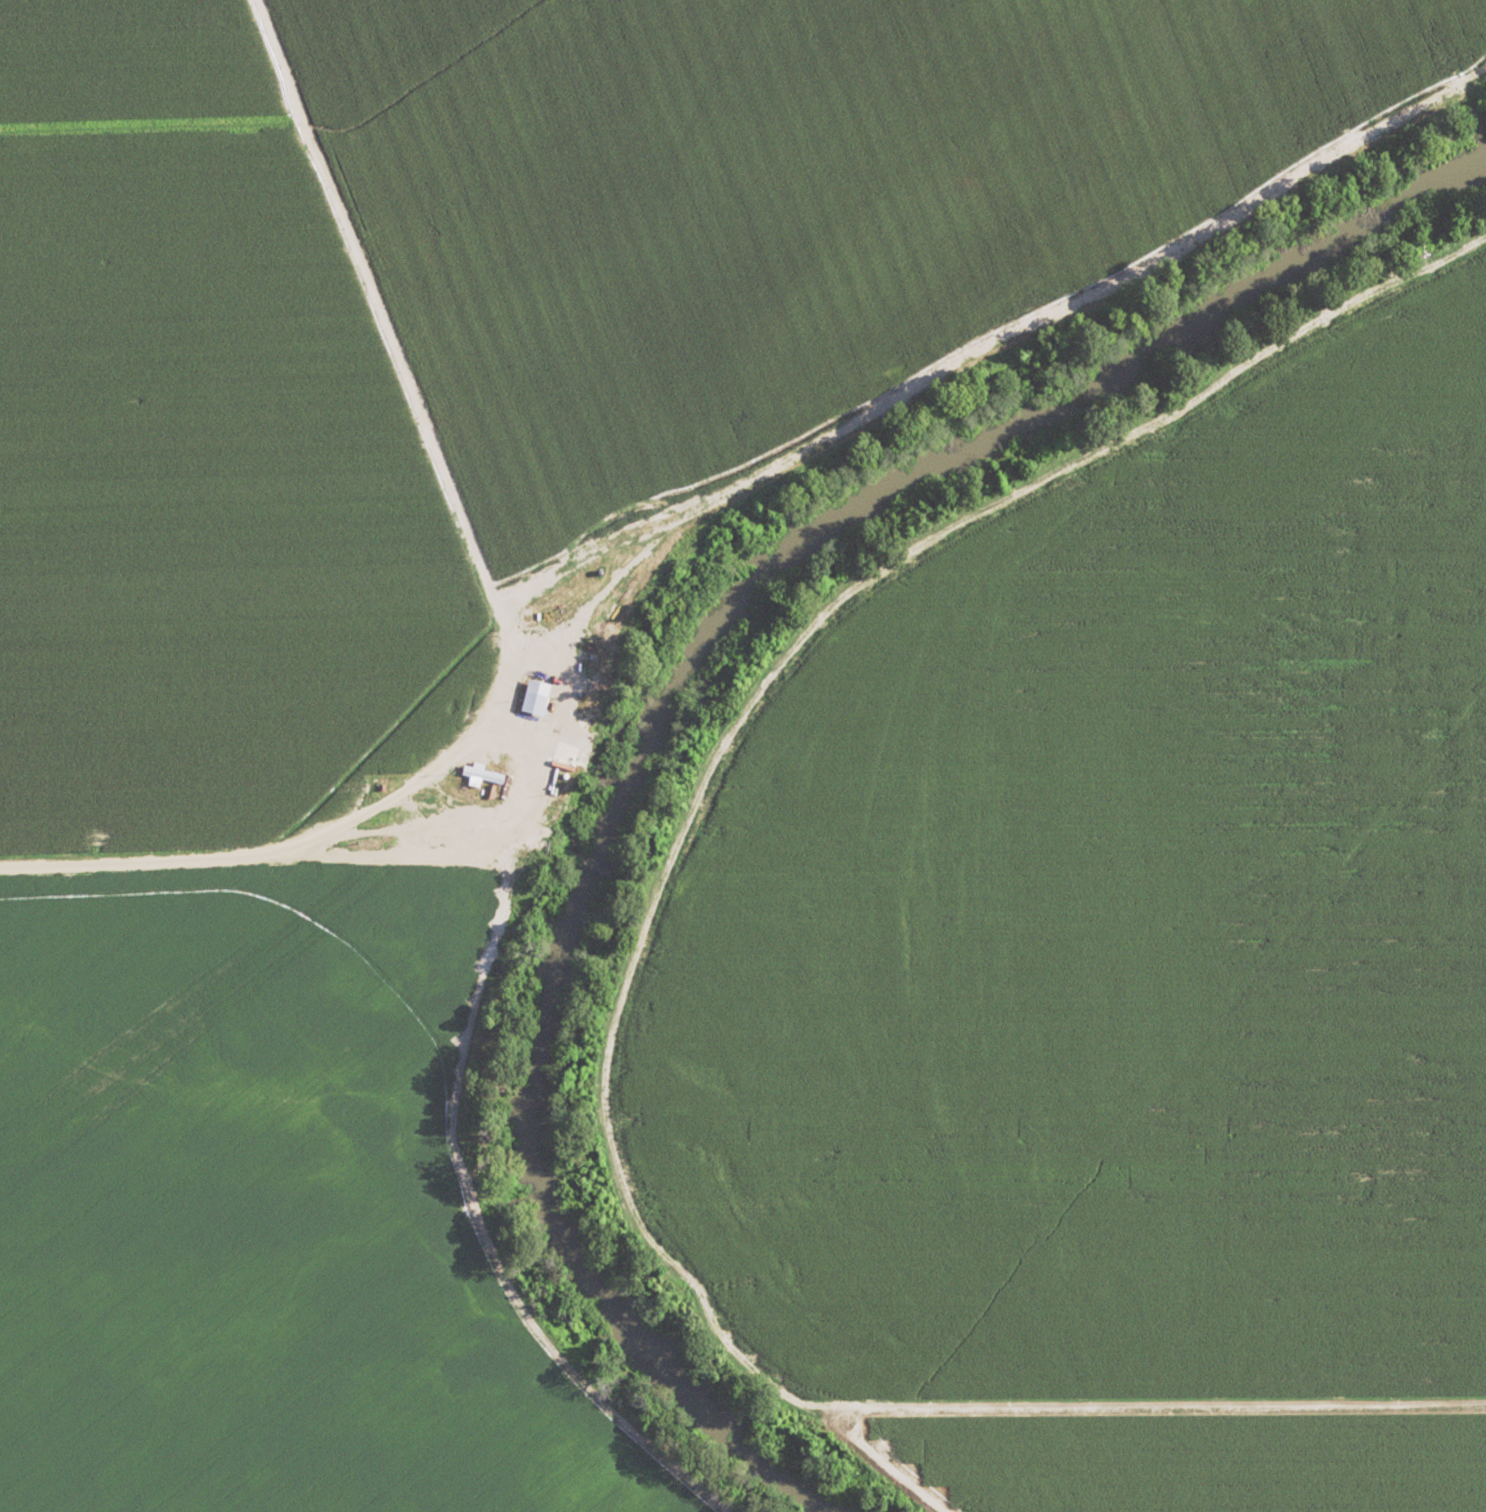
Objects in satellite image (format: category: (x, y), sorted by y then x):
road: (1024, 487)
river: (685, 690)
building: (529, 697)
building: (480, 774)
road: (523, 785)
road: (535, 842)
road: (265, 848)
road: (1063, 855)
road: (586, 862)
road: (661, 871)
road: (635, 881)
road: (655, 1254)
road: (1141, 1399)

